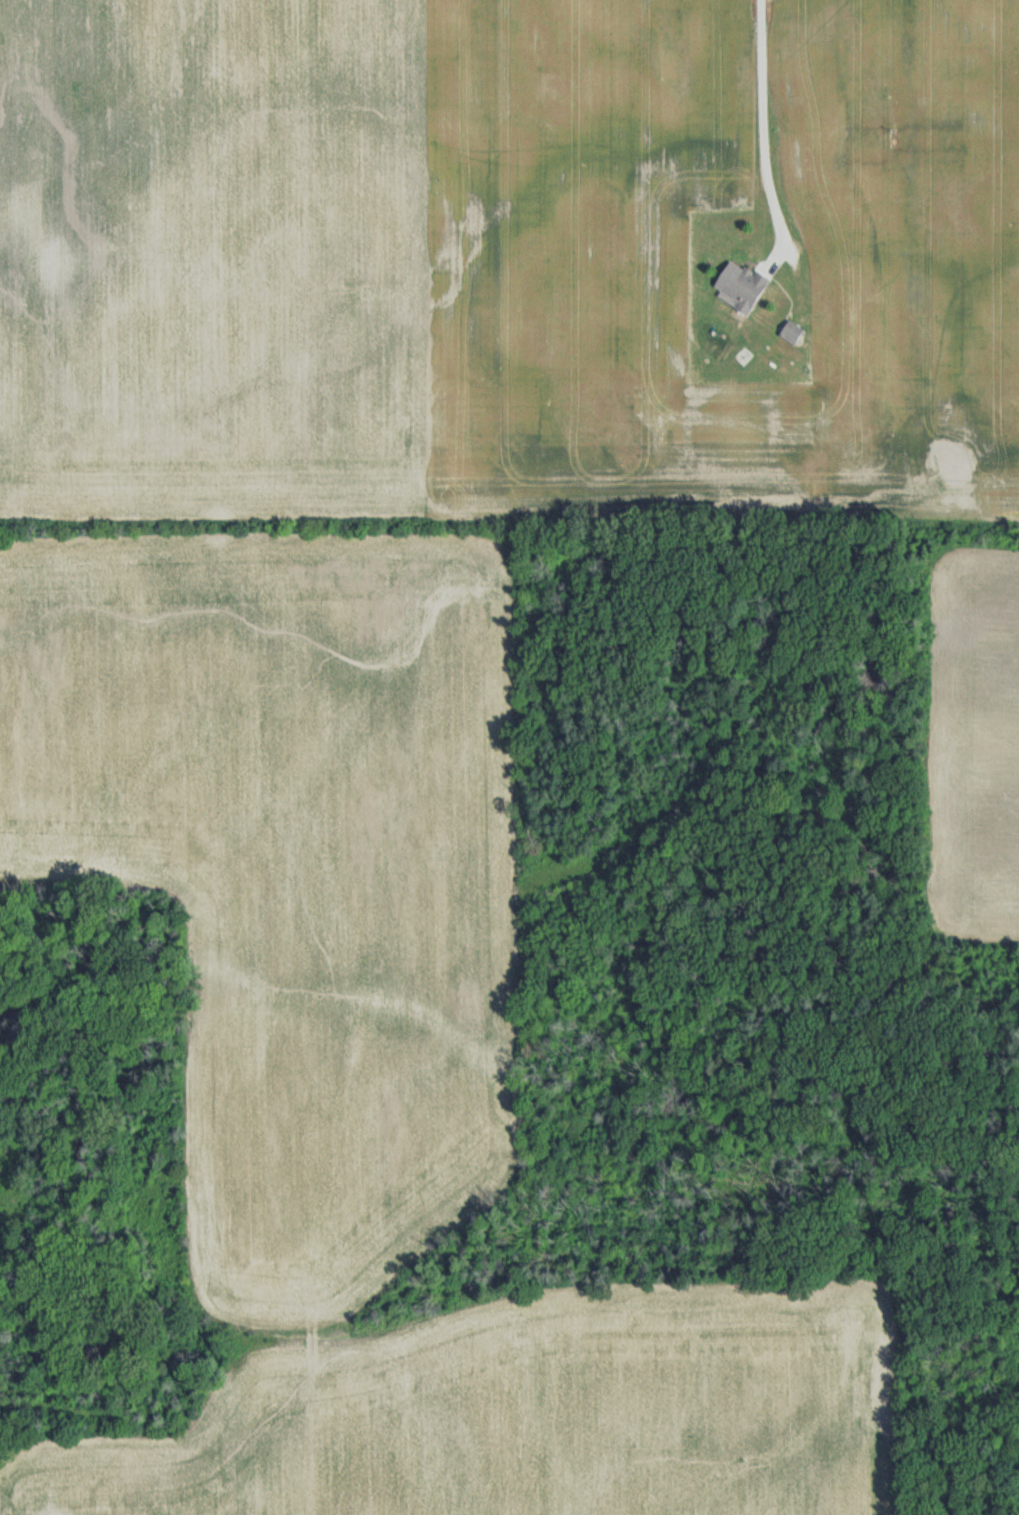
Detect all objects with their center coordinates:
building: (747, 291)
building: (794, 333)

